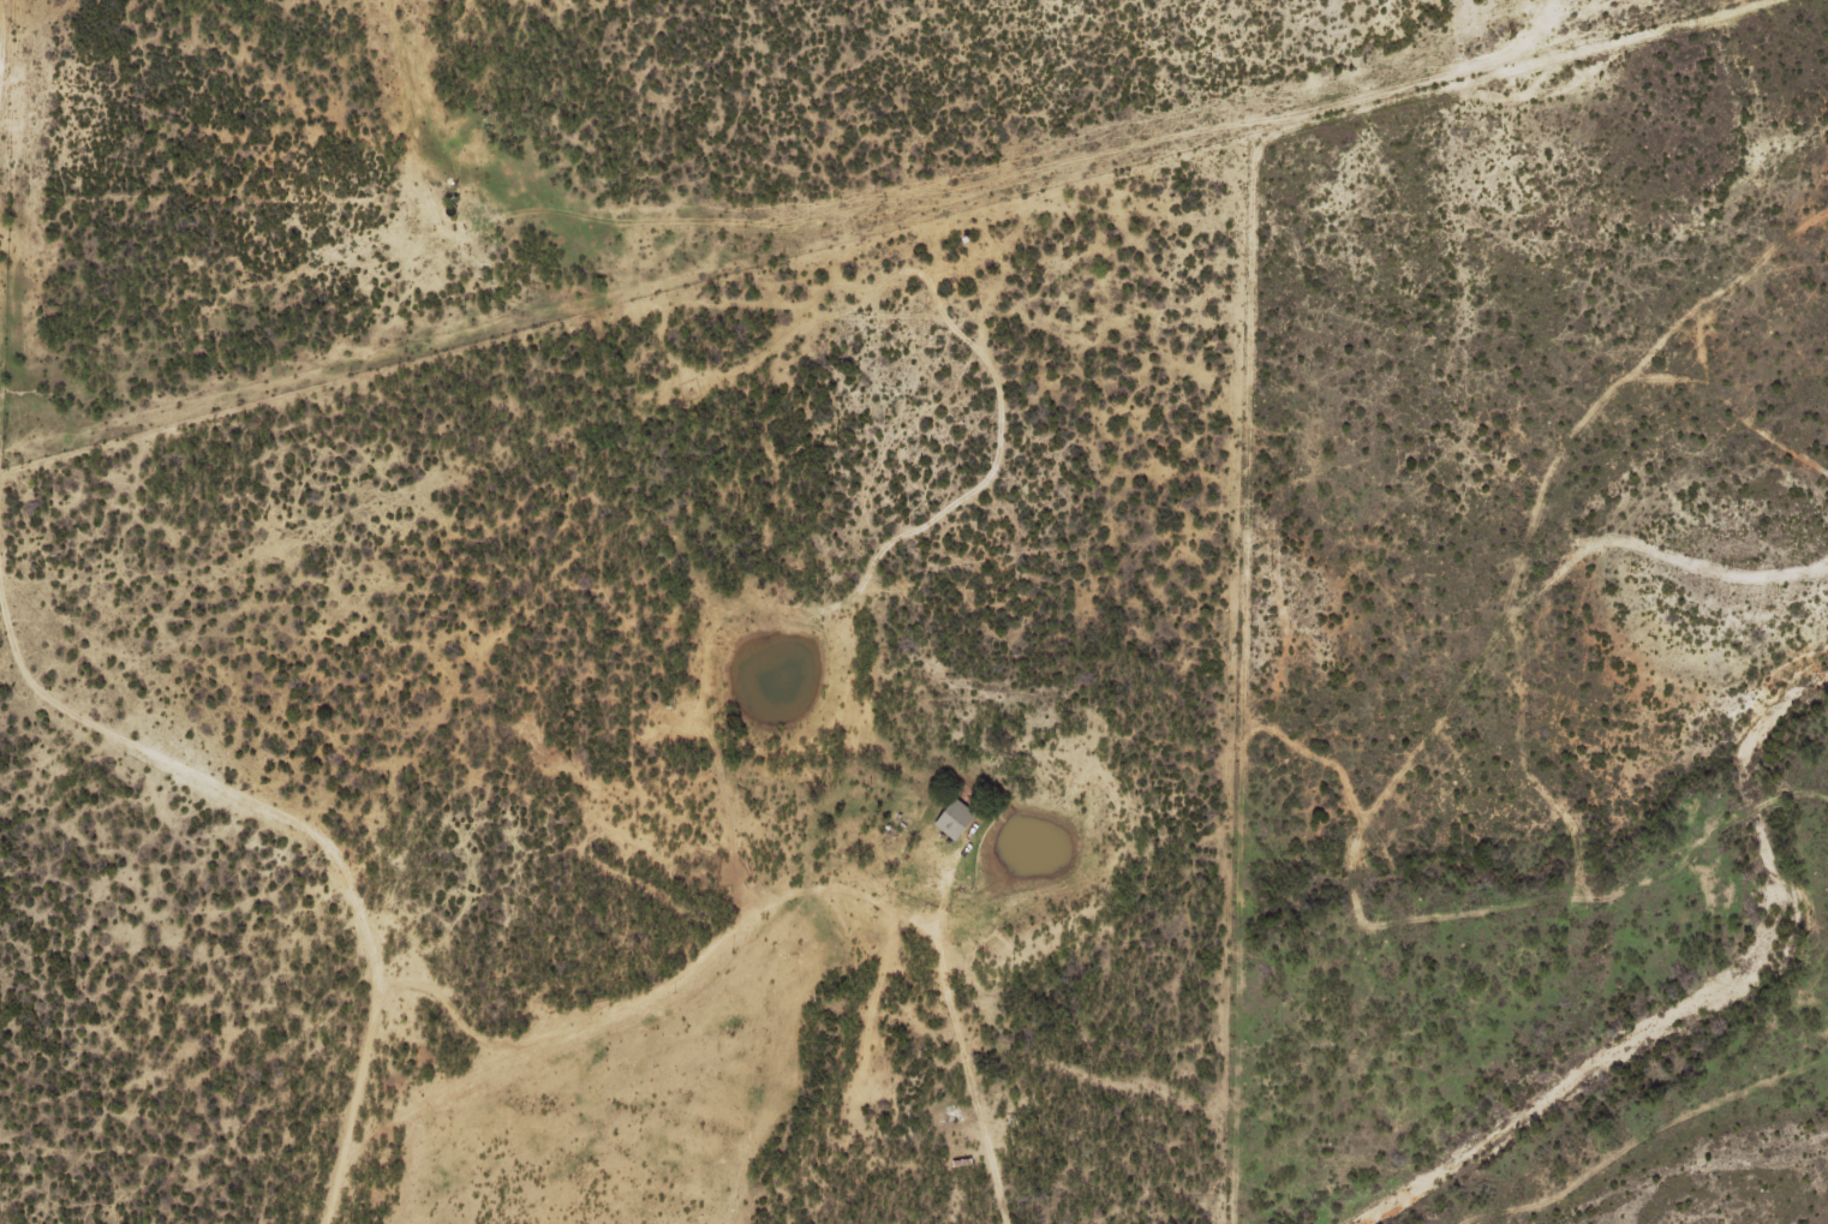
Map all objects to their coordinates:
road: (52, 126)
road: (1057, 228)
building: (952, 819)
road: (464, 920)
road: (154, 993)

